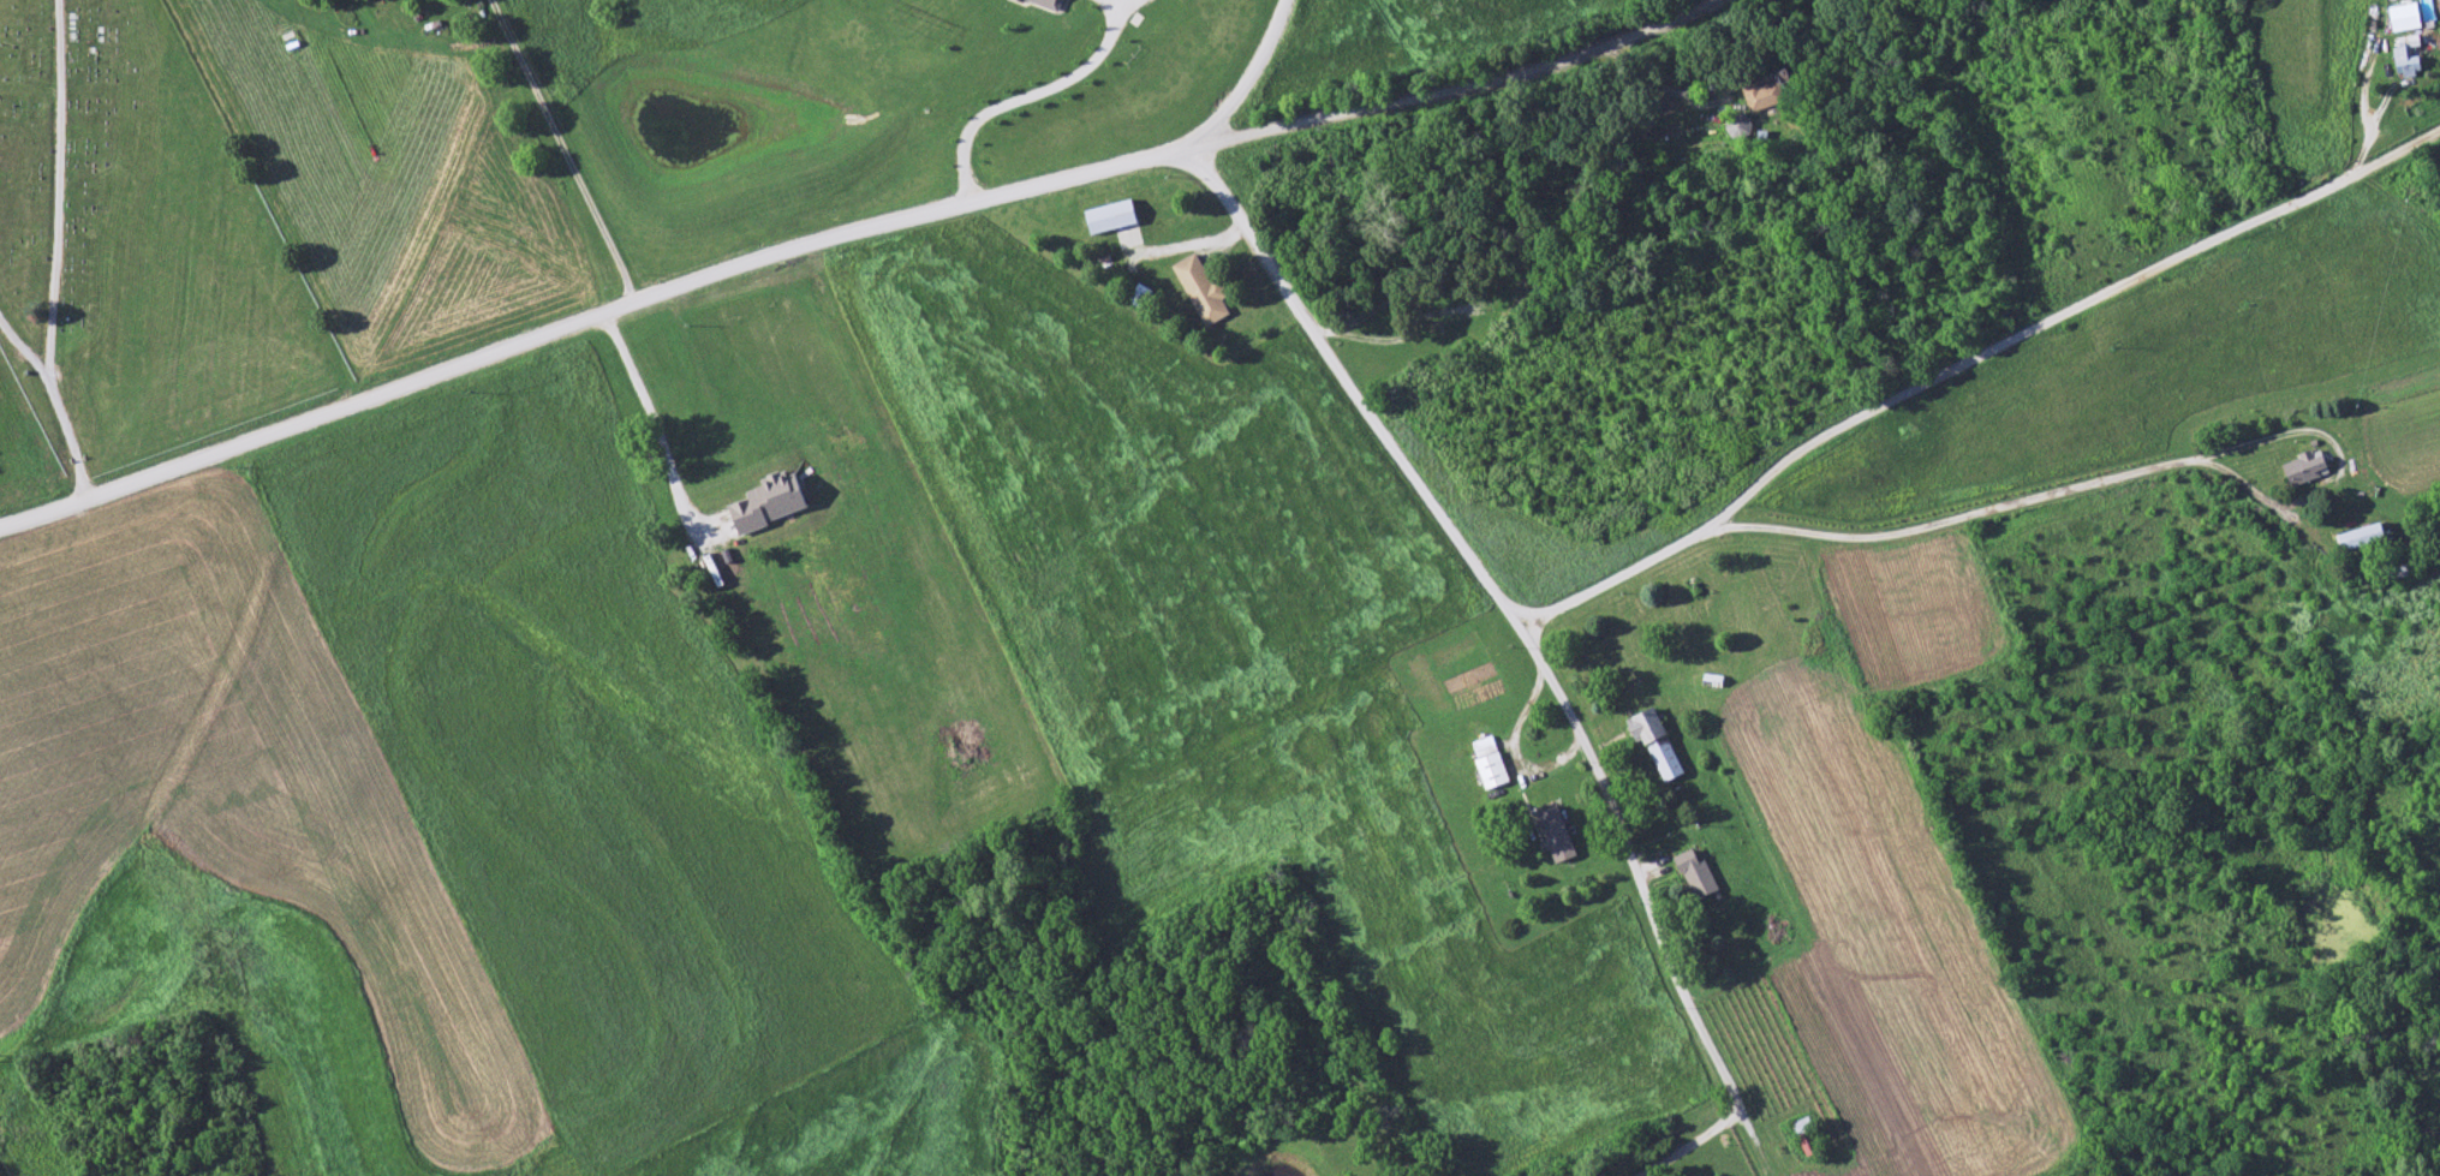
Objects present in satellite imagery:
road: (1235, 73)
road: (1026, 95)
road: (559, 149)
road: (56, 187)
road: (827, 245)
park: (132, 250)
road: (20, 348)
road: (1967, 360)
road: (661, 430)
road: (66, 437)
road: (1955, 520)
road: (1507, 608)
road: (1692, 1142)

